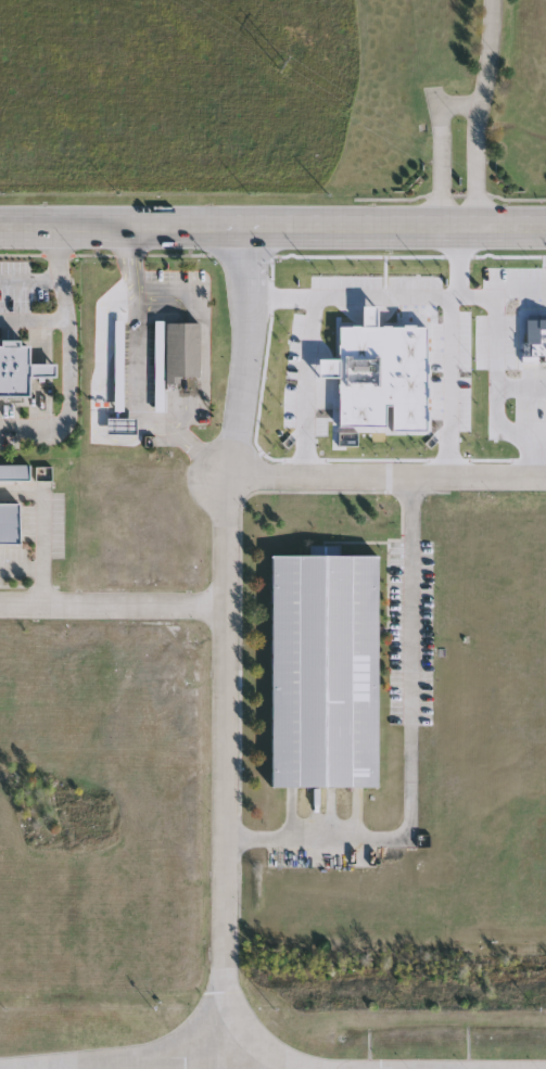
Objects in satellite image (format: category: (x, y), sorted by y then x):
road: (487, 51)
road: (441, 147)
road: (475, 168)
road: (272, 229)
road: (31, 276)
road: (519, 284)
road: (379, 295)
road: (33, 323)
building: (177, 357)
road: (66, 360)
building: (20, 369)
building: (379, 373)
road: (120, 379)
road: (496, 380)
road: (305, 385)
road: (448, 385)
road: (521, 386)
road: (537, 430)
building: (15, 473)
road: (389, 475)
building: (10, 524)
road: (42, 529)
road: (115, 603)
road: (230, 645)
building: (325, 671)
road: (410, 743)
road: (148, 1060)
road: (504, 1067)

